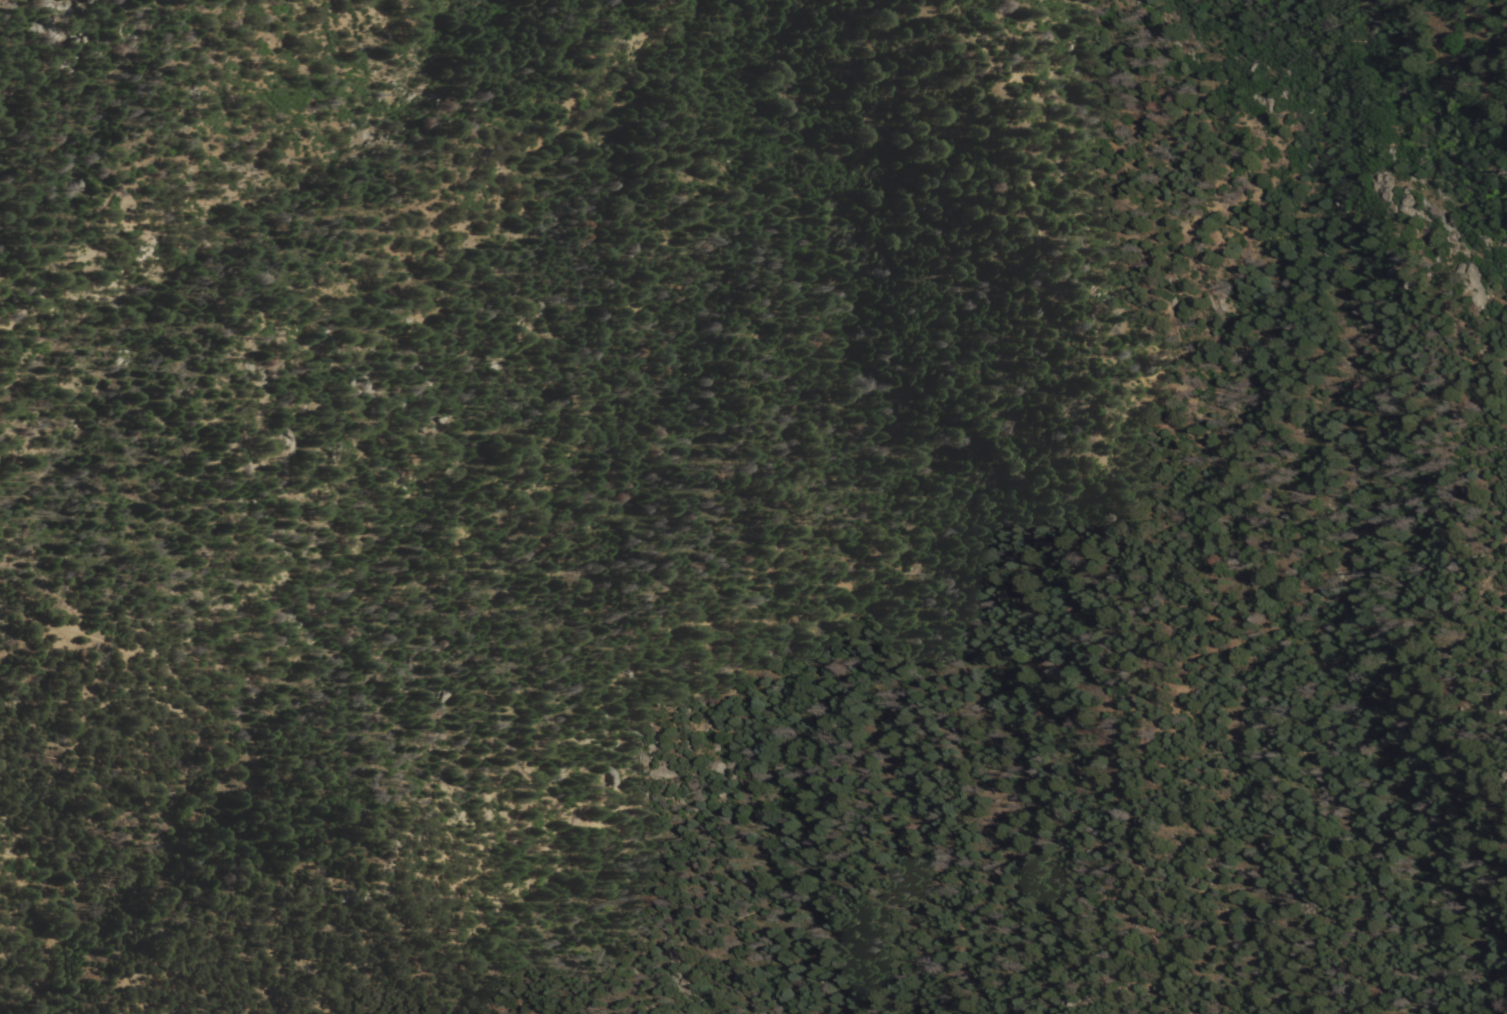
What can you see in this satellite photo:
road: (276, 773)

